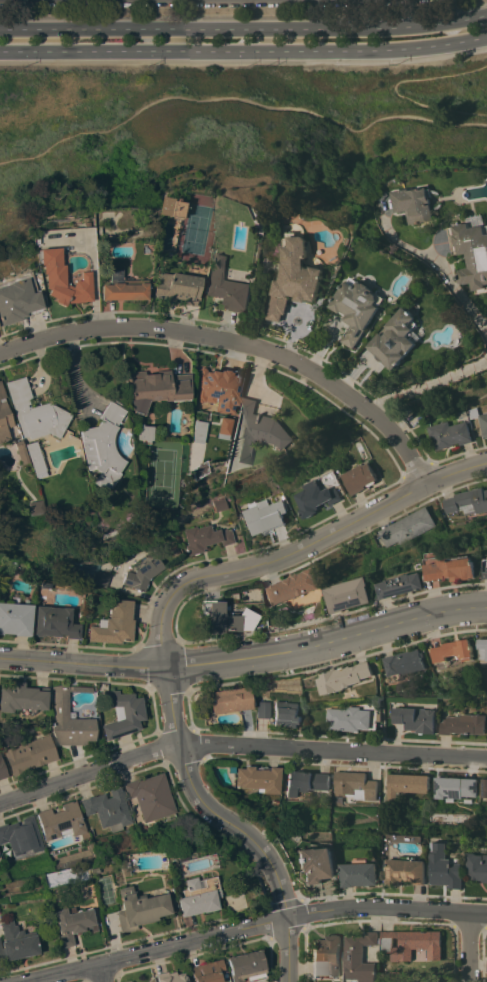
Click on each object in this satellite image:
road: (244, 28)
road: (244, 50)
road: (392, 87)
road: (240, 97)
building: (416, 203)
building: (168, 207)
building: (211, 221)
building: (472, 252)
building: (293, 276)
building: (62, 279)
building: (226, 284)
building: (123, 287)
building: (176, 287)
road: (465, 290)
building: (17, 301)
building: (357, 307)
building: (396, 337)
road: (238, 342)
road: (77, 381)
road: (428, 385)
building: (156, 388)
building: (218, 388)
building: (34, 412)
building: (461, 412)
building: (3, 417)
building: (483, 421)
building: (222, 425)
building: (260, 430)
building: (196, 431)
building: (143, 433)
building: (449, 433)
building: (63, 436)
building: (101, 446)
building: (19, 451)
building: (34, 459)
building: (359, 477)
building: (314, 497)
building: (467, 500)
building: (219, 504)
building: (34, 506)
building: (263, 515)
building: (407, 526)
building: (205, 538)
road: (294, 548)
building: (116, 567)
building: (455, 568)
building: (139, 572)
building: (101, 578)
building: (405, 584)
building: (296, 590)
building: (352, 594)
building: (226, 617)
building: (16, 618)
building: (56, 622)
building: (114, 624)
building: (486, 648)
building: (458, 649)
road: (245, 658)
building: (409, 663)
building: (347, 676)
building: (22, 697)
building: (231, 700)
building: (263, 709)
building: (286, 713)
building: (124, 714)
building: (352, 717)
building: (69, 718)
building: (415, 718)
building: (463, 723)
building: (486, 734)
road: (239, 747)
building: (30, 754)
building: (2, 768)
building: (232, 768)
building: (259, 778)
building: (305, 781)
building: (354, 784)
building: (405, 784)
building: (455, 786)
building: (484, 787)
building: (151, 796)
building: (274, 802)
building: (109, 809)
building: (62, 821)
road: (228, 826)
building: (21, 835)
building: (180, 857)
building: (172, 862)
building: (316, 863)
building: (477, 865)
building: (445, 866)
building: (92, 870)
building: (407, 870)
building: (359, 872)
building: (198, 896)
building: (139, 908)
building: (72, 923)
road: (247, 930)
building: (15, 942)
building: (413, 943)
road: (469, 947)
building: (327, 955)
building: (361, 957)
building: (246, 966)
building: (208, 971)
road: (99, 974)
building: (393, 974)
building: (171, 977)
building: (151, 979)
building: (130, 981)

